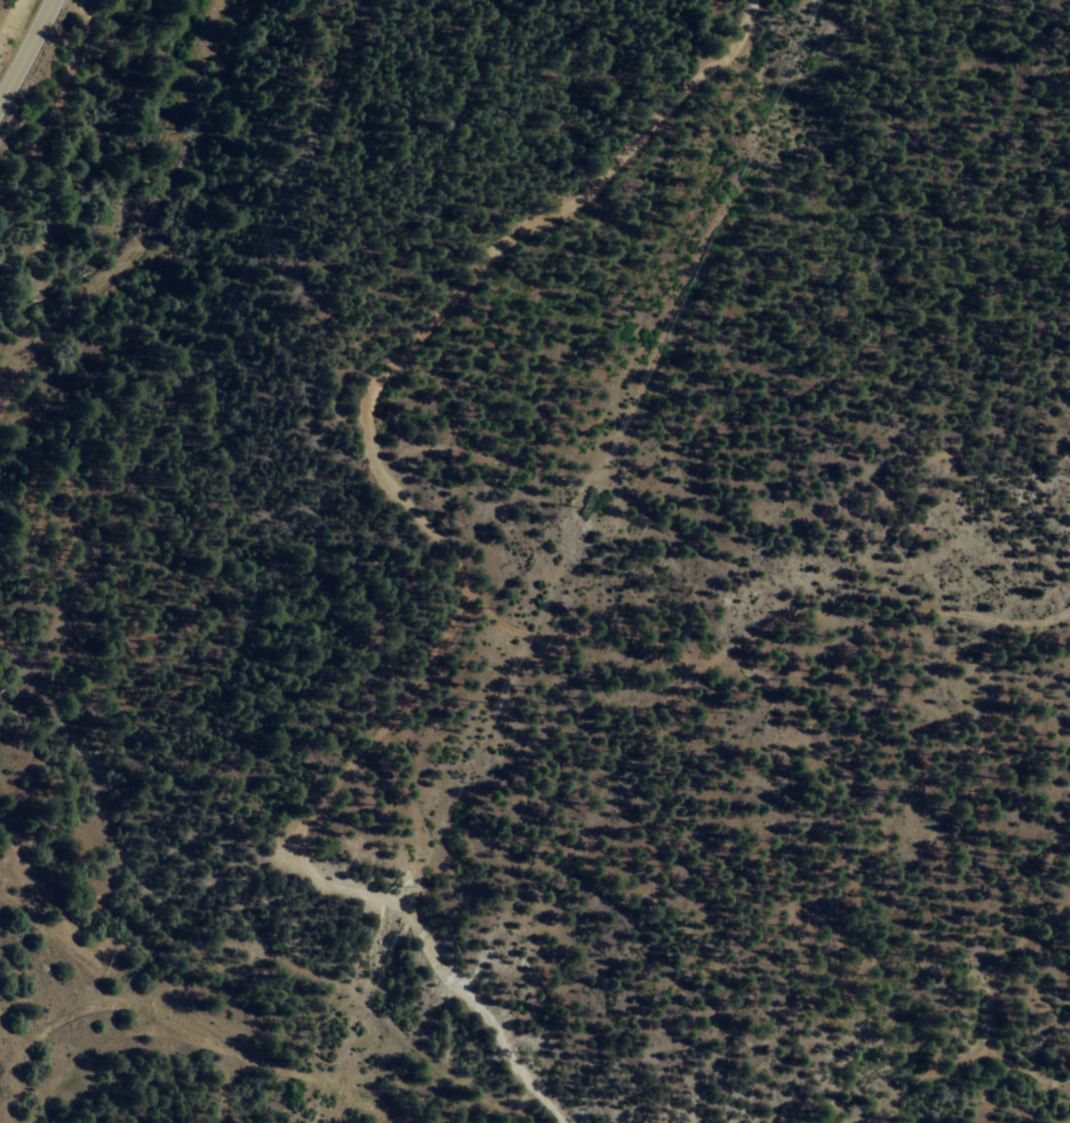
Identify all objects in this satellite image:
road: (25, 47)
road: (159, 208)
road: (427, 538)

